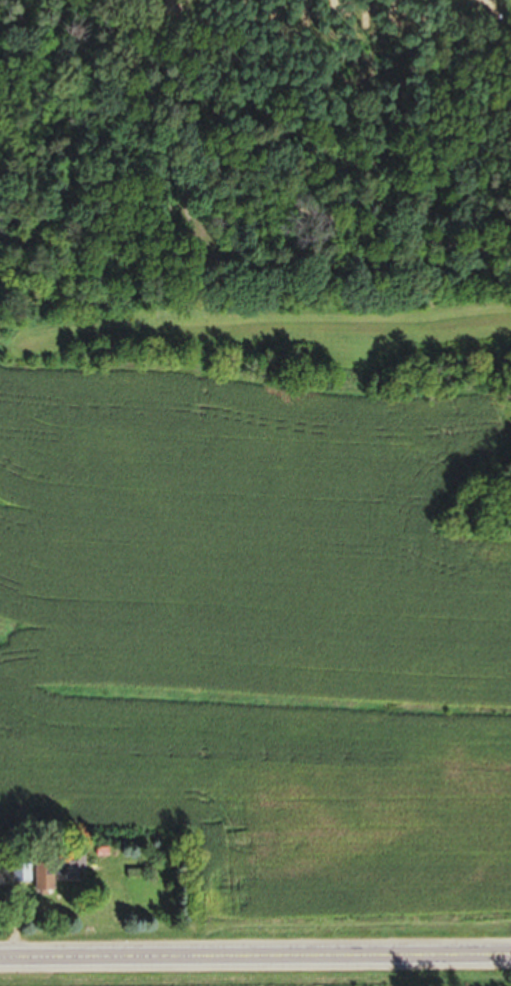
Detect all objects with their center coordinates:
building: (51, 878)
road: (255, 959)

